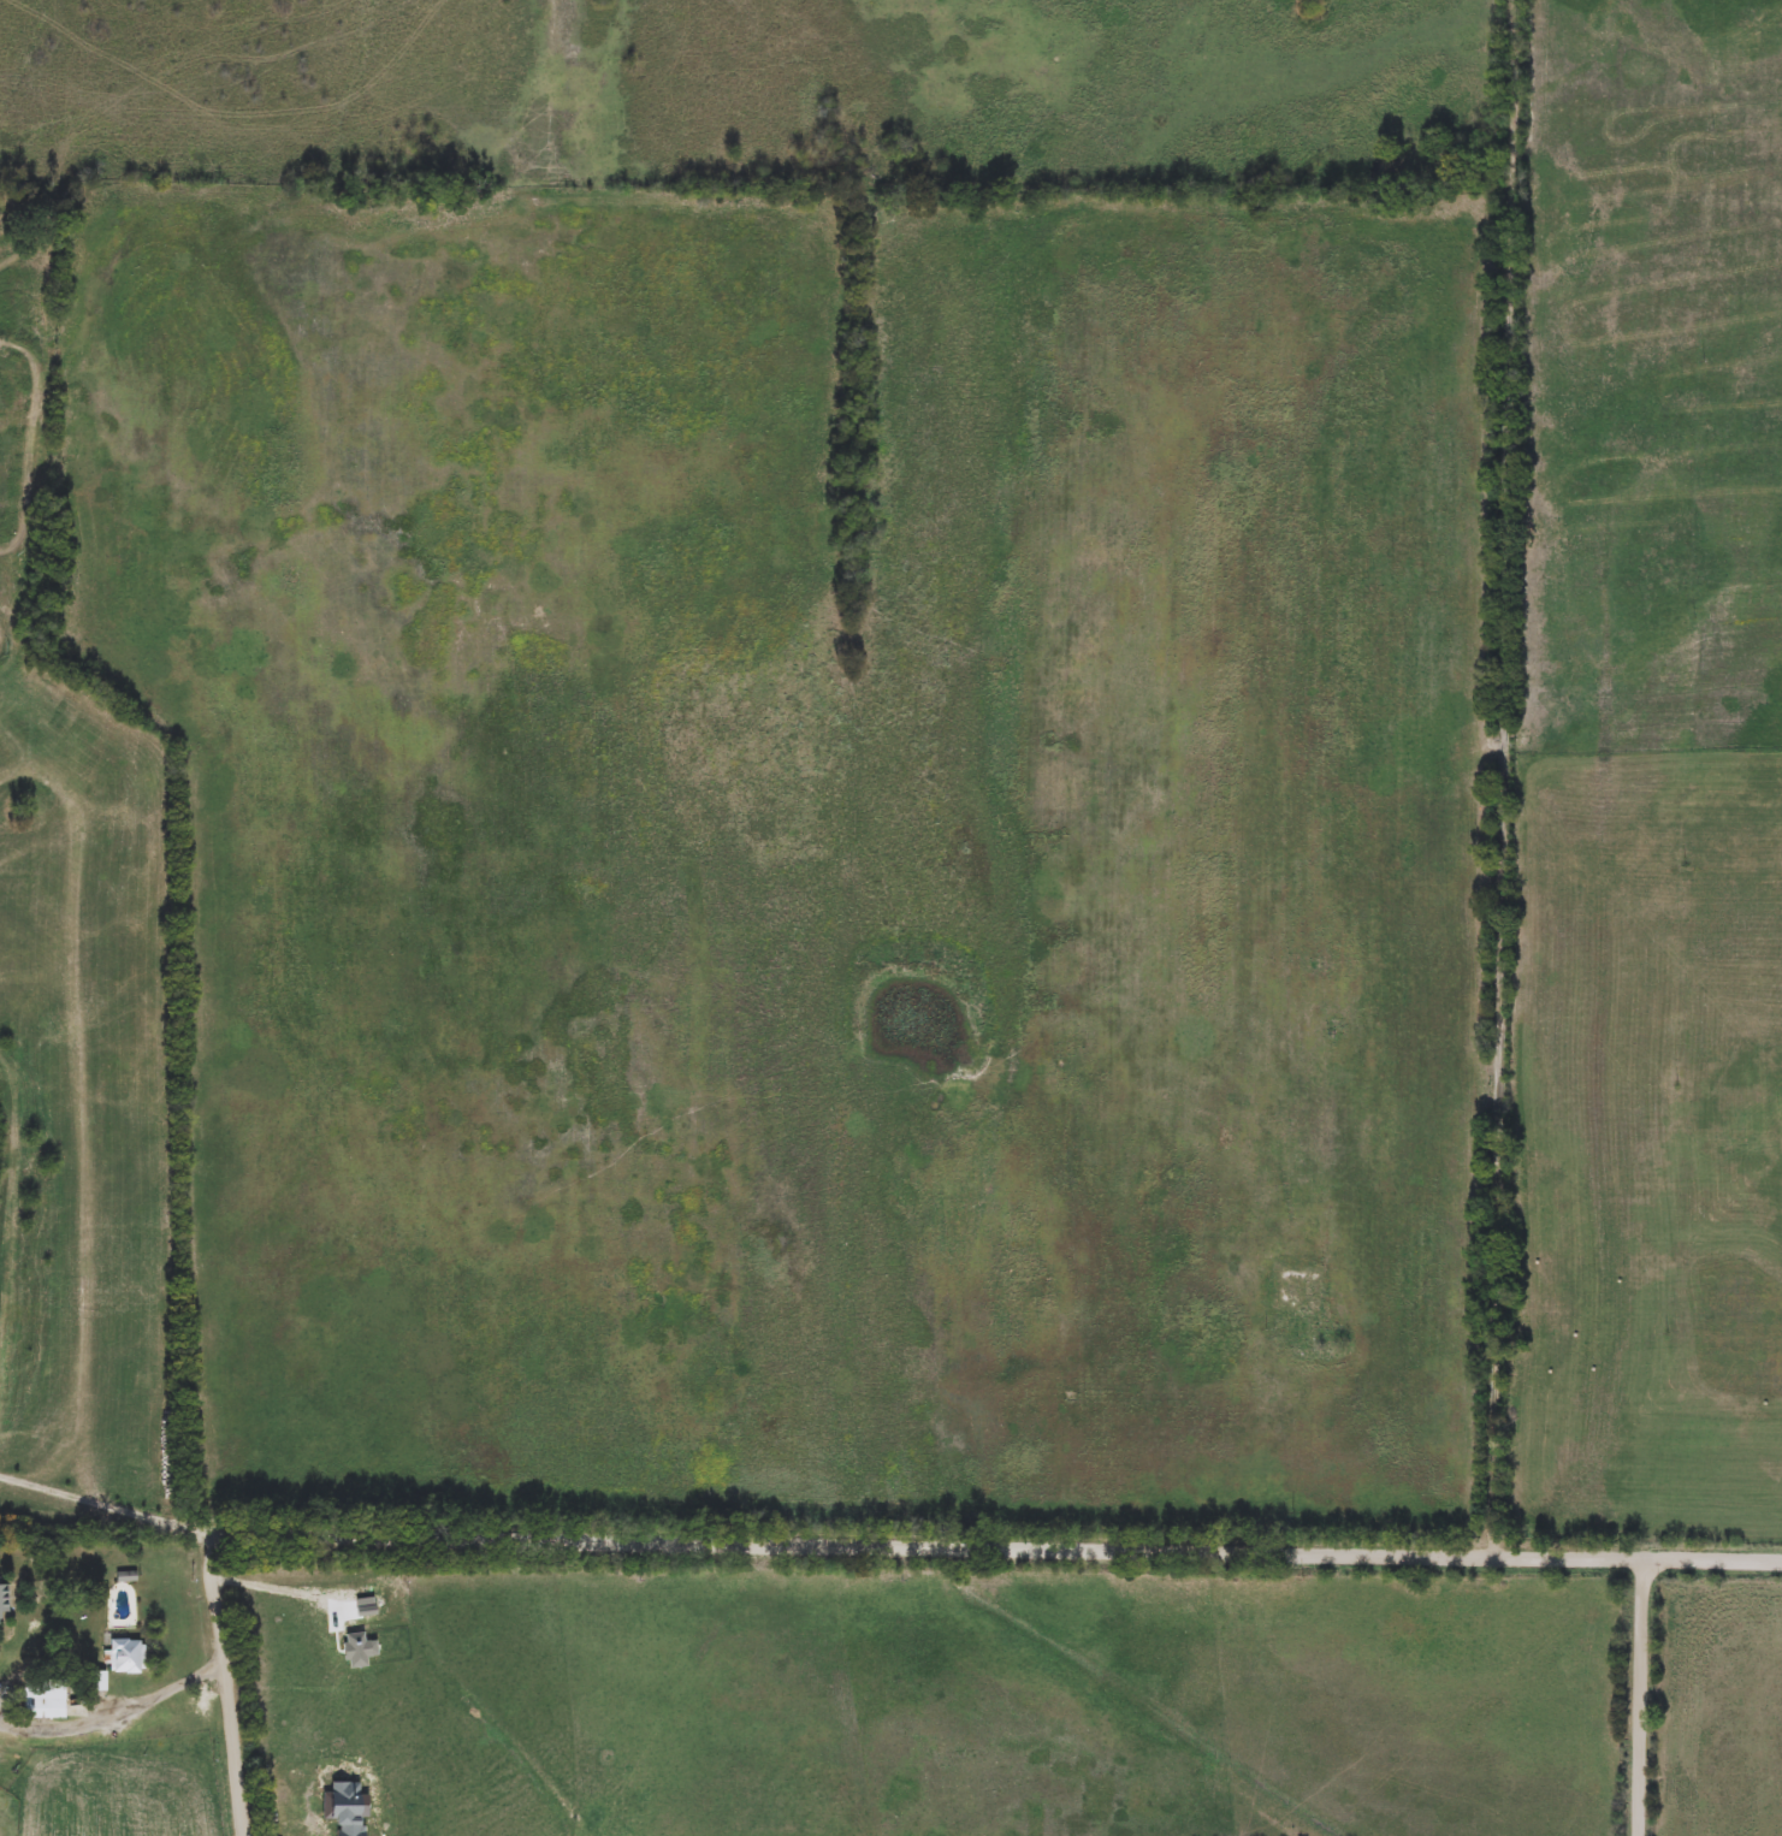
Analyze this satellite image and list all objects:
road: (1504, 777)
road: (113, 1509)
road: (943, 1541)
road: (290, 1591)
building: (4, 1599)
building: (129, 1657)
building: (97, 1682)
road: (1640, 1694)
building: (46, 1708)
road: (118, 1717)
road: (235, 1747)

